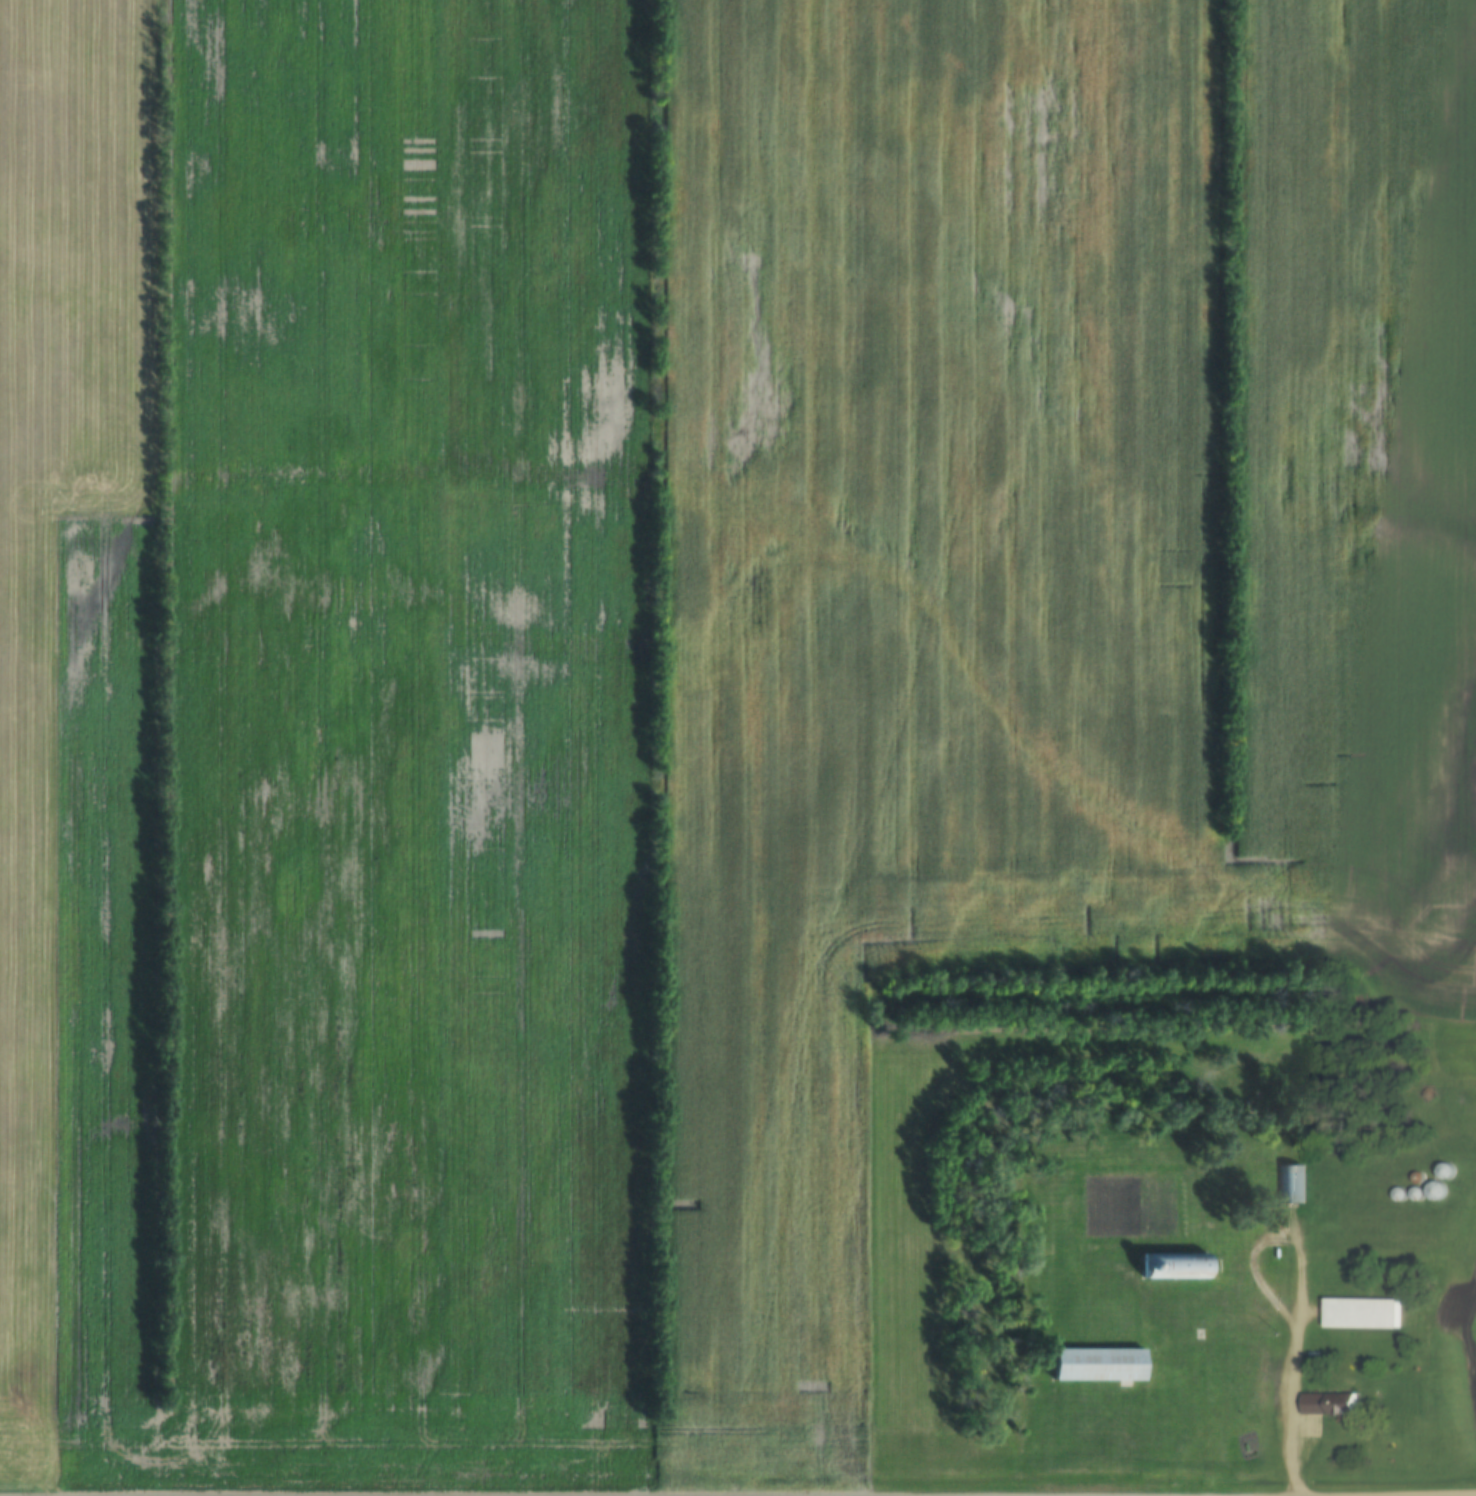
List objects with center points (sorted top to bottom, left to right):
building: (1290, 1184)
building: (1437, 1190)
road: (1282, 1232)
building: (1174, 1266)
building: (1363, 1312)
building: (1098, 1364)
building: (1329, 1404)
road: (1298, 1409)

